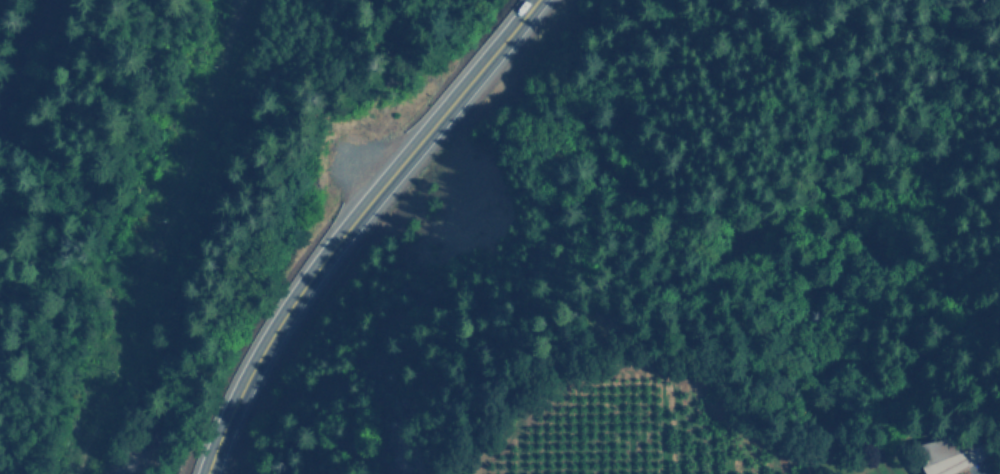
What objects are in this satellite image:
railway: (26, 53)
road: (349, 223)
building: (951, 453)

